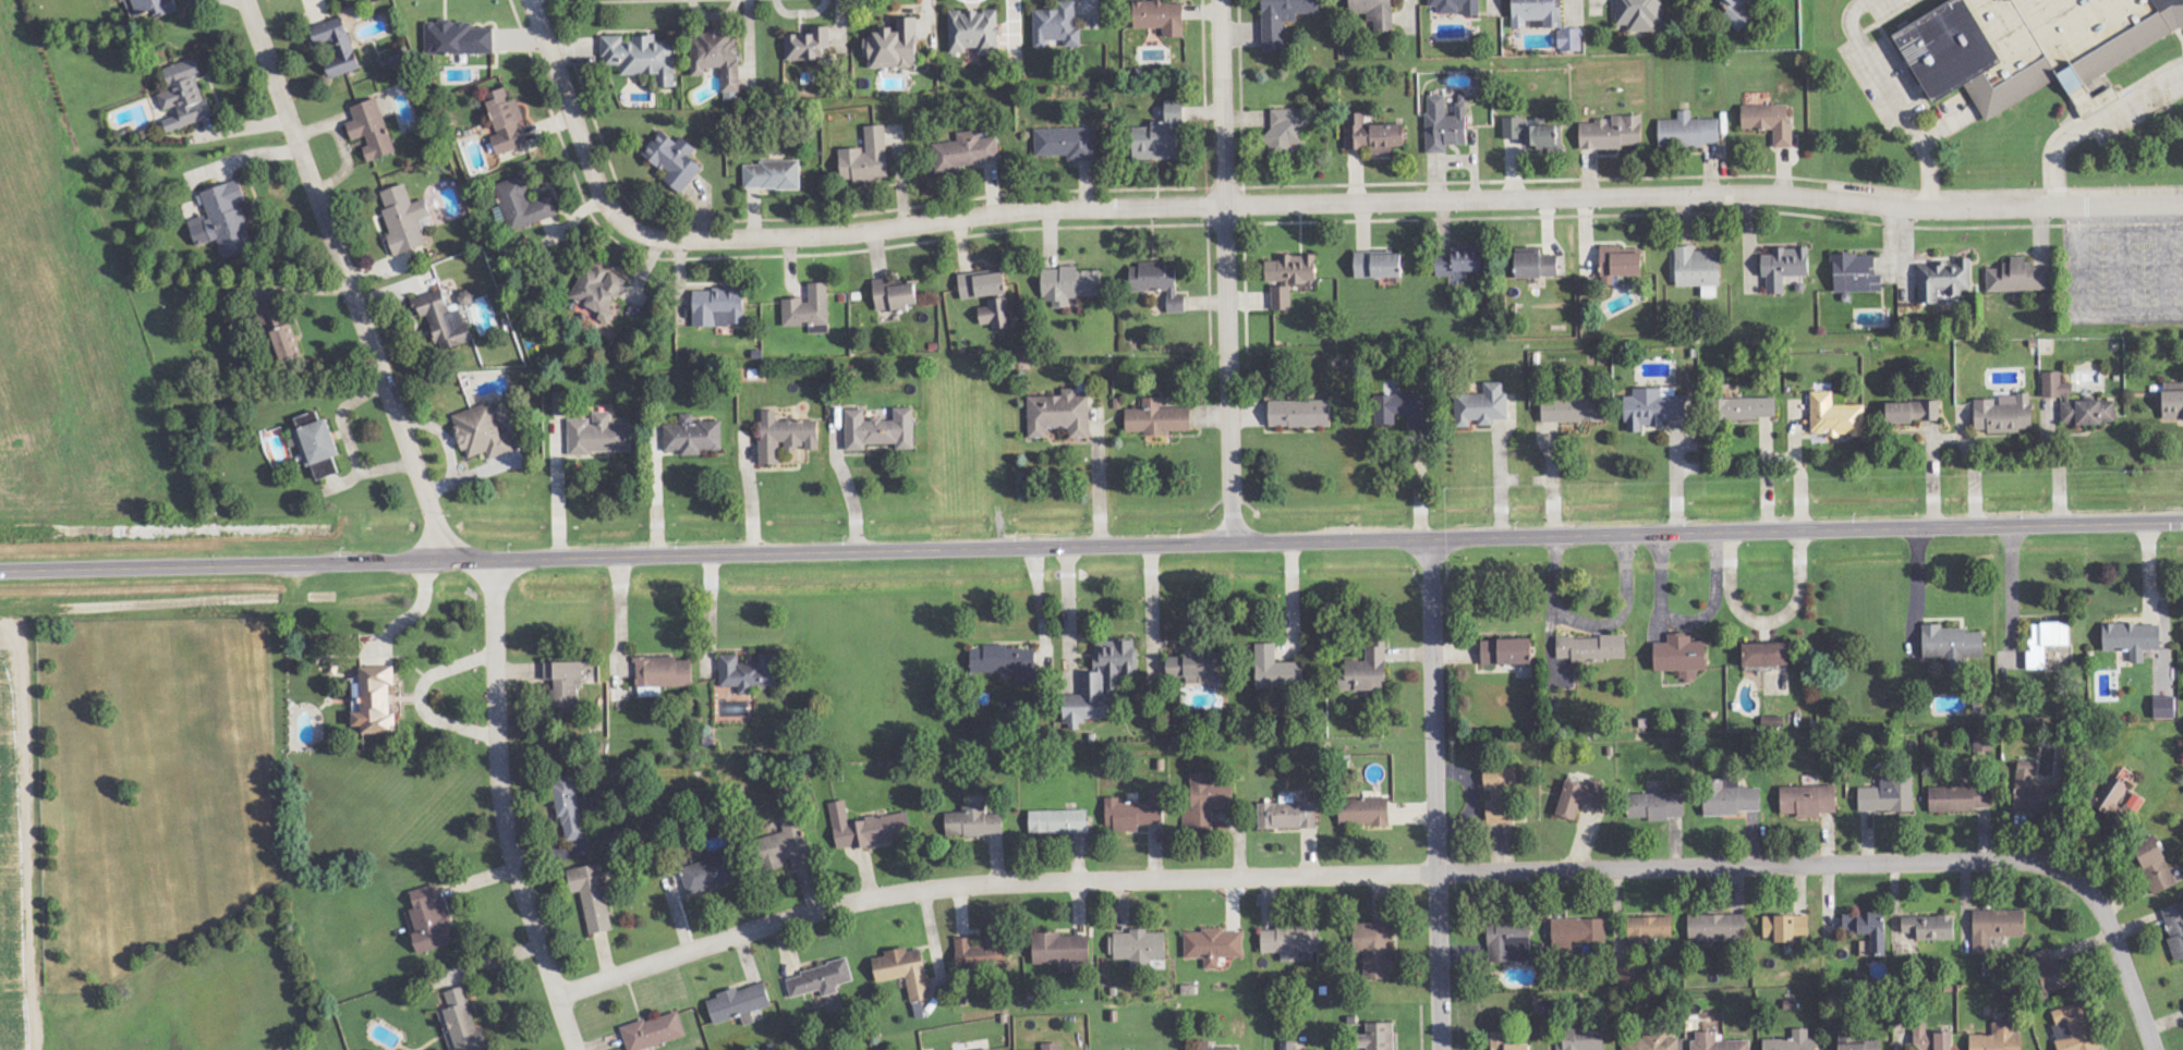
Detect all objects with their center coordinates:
building: (154, 7)
building: (1457, 7)
building: (1376, 13)
building: (1538, 13)
building: (1737, 13)
building: (1639, 14)
building: (1160, 16)
building: (1283, 19)
building: (1057, 26)
building: (974, 32)
building: (457, 38)
building: (1569, 40)
building: (341, 42)
building: (2032, 42)
building: (809, 45)
building: (894, 46)
building: (641, 57)
building: (718, 59)
building: (184, 96)
road: (2095, 115)
building: (1770, 121)
building: (506, 122)
building: (1444, 125)
building: (1288, 127)
building: (1514, 127)
building: (371, 130)
building: (1688, 132)
building: (1613, 133)
building: (1160, 135)
building: (1372, 135)
building: (1066, 143)
building: (966, 152)
building: (866, 158)
building: (674, 160)
building: (772, 175)
road: (1281, 200)
building: (523, 205)
building: (403, 219)
building: (223, 220)
building: (1460, 262)
building: (1537, 265)
building: (1620, 265)
building: (1379, 266)
building: (1784, 267)
road: (1228, 268)
building: (1698, 269)
building: (1293, 270)
building: (1856, 273)
building: (2018, 277)
road: (349, 278)
building: (1943, 280)
building: (1159, 283)
building: (1069, 284)
building: (983, 285)
building: (894, 296)
building: (1282, 298)
building: (718, 307)
building: (809, 309)
building: (996, 314)
building: (444, 321)
building: (281, 333)
building: (2173, 401)
building: (2077, 403)
building: (559, 404)
building: (1481, 405)
building: (1654, 408)
building: (1747, 408)
building: (1403, 410)
building: (1572, 410)
building: (1914, 412)
building: (1059, 414)
building: (1300, 414)
building: (2004, 414)
building: (1834, 417)
building: (1157, 418)
building: (880, 430)
building: (481, 434)
building: (598, 435)
building: (692, 437)
building: (785, 437)
road: (1091, 541)
road: (2015, 589)
road: (1916, 610)
building: (2133, 639)
building: (2047, 643)
building: (1953, 646)
building: (1592, 648)
building: (1507, 652)
building: (1767, 655)
building: (1681, 656)
building: (1006, 661)
building: (1193, 667)
building: (1276, 670)
building: (1368, 670)
building: (664, 672)
building: (749, 672)
building: (565, 683)
building: (1102, 684)
building: (375, 703)
building: (2164, 708)
road: (1440, 791)
building: (1500, 792)
building: (2033, 794)
building: (2110, 795)
building: (1889, 796)
building: (1584, 798)
building: (1731, 798)
building: (1962, 799)
building: (1809, 801)
building: (1206, 803)
building: (1657, 806)
road: (502, 807)
building: (569, 808)
building: (1365, 813)
building: (1135, 814)
building: (1288, 815)
building: (973, 822)
building: (1058, 822)
building: (868, 828)
building: (785, 845)
building: (2156, 867)
road: (1408, 868)
building: (708, 875)
building: (591, 898)
building: (429, 921)
building: (2176, 923)
building: (1786, 928)
building: (1930, 928)
building: (1997, 928)
building: (1718, 929)
building: (1869, 929)
building: (1651, 930)
building: (1579, 933)
building: (1509, 941)
building: (1290, 942)
building: (1213, 947)
building: (1139, 949)
building: (1866, 949)
building: (1374, 950)
building: (1062, 951)
building: (982, 952)
building: (905, 972)
building: (2050, 973)
building: (1629, 978)
building: (820, 980)
building: (739, 1004)
building: (463, 1023)
building: (2075, 1028)
building: (654, 1033)
building: (1381, 1036)
building: (2000, 1038)
building: (1580, 1039)
building: (1933, 1039)
building: (1793, 1041)
building: (1506, 1042)
building: (1718, 1042)
building: (1856, 1042)
building: (1052, 1046)
building: (1204, 1046)
building: (1288, 1046)
building: (986, 1049)

